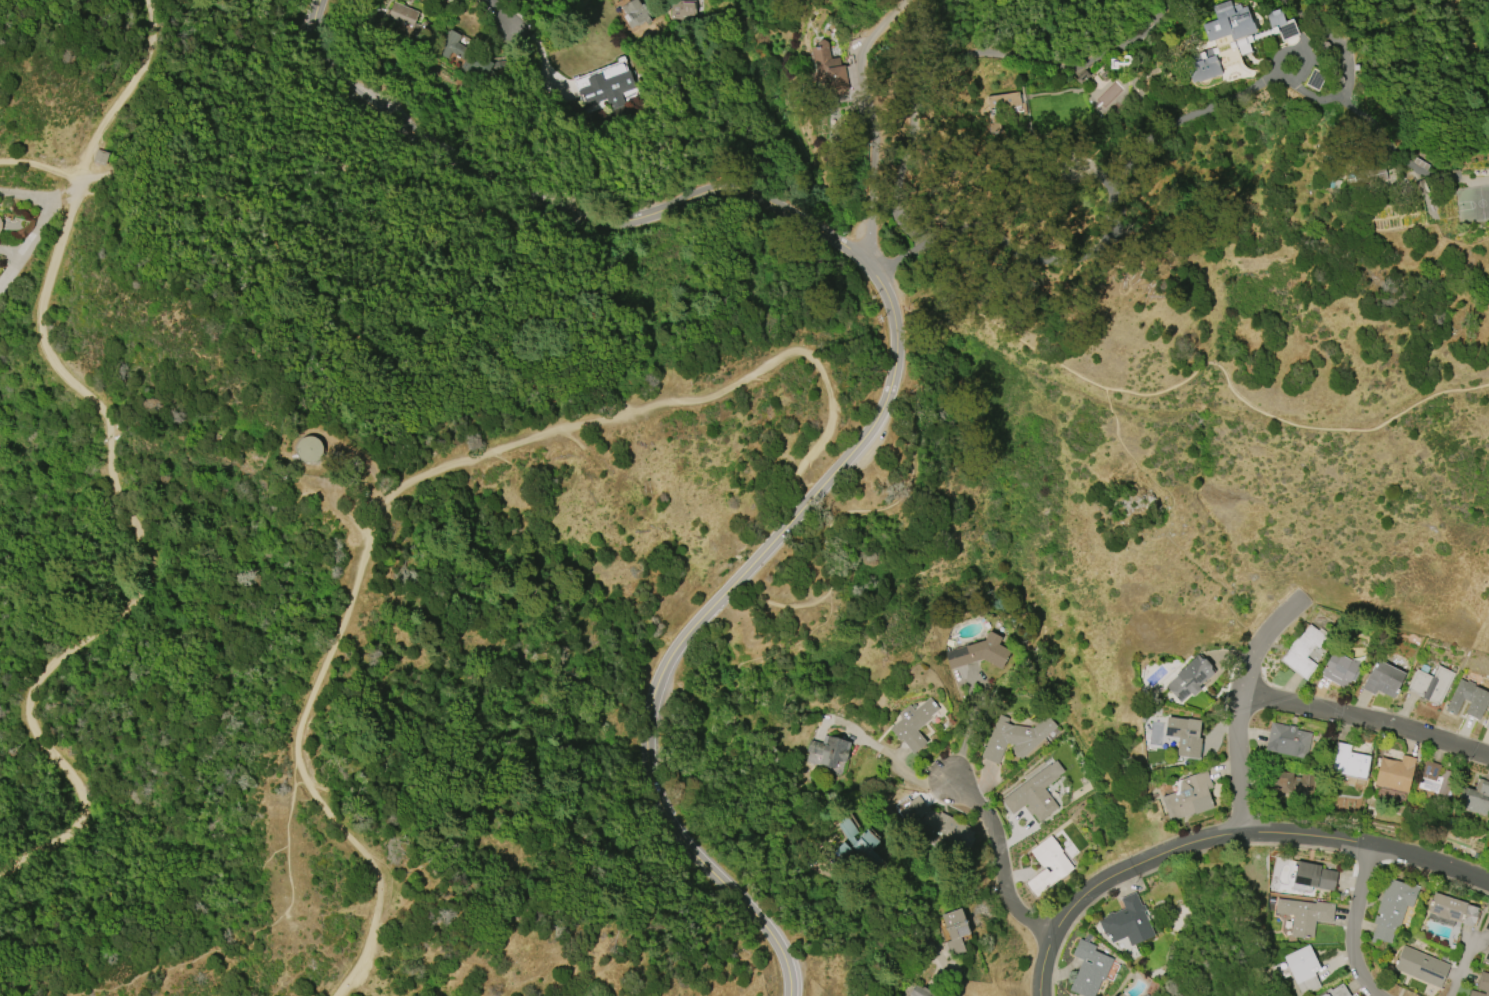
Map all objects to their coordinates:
building: (442, 0)
building: (682, 9)
building: (635, 13)
road: (498, 14)
building: (402, 16)
road: (878, 22)
building: (1281, 24)
building: (1231, 25)
building: (460, 52)
road: (544, 57)
road: (945, 59)
building: (1205, 66)
building: (828, 69)
building: (1104, 74)
building: (1082, 77)
building: (606, 85)
road: (179, 91)
road: (123, 94)
building: (1004, 108)
road: (874, 151)
building: (100, 157)
road: (40, 165)
road: (306, 169)
building: (1363, 176)
road: (63, 191)
road: (543, 204)
road: (1120, 216)
road: (43, 221)
building: (0, 224)
road: (337, 305)
road: (924, 316)
road: (1027, 344)
building: (308, 449)
storage tank: (308, 449)
road: (423, 478)
road: (302, 481)
road: (789, 493)
road: (350, 515)
road: (139, 554)
road: (712, 613)
building: (1302, 651)
building: (980, 652)
building: (1340, 668)
building: (1190, 678)
building: (1383, 679)
building: (1430, 684)
building: (1468, 699)
road: (1237, 706)
road: (1364, 720)
building: (913, 724)
building: (1487, 724)
road: (968, 730)
building: (1184, 735)
building: (1015, 737)
building: (1287, 740)
building: (830, 749)
building: (1350, 763)
road: (905, 769)
building: (1394, 773)
building: (1436, 780)
building: (1293, 784)
building: (1034, 793)
building: (1188, 796)
building: (1475, 797)
building: (848, 828)
building: (946, 830)
road: (1225, 836)
building: (866, 848)
road: (998, 856)
building: (1048, 865)
building: (1312, 877)
building: (1392, 908)
building: (1453, 909)
building: (1304, 915)
building: (1126, 921)
road: (1351, 924)
road: (903, 926)
building: (1486, 926)
building: (955, 930)
building: (1486, 954)
building: (1421, 966)
road: (1461, 966)
building: (1303, 968)
building: (1089, 969)
building: (1481, 985)
road: (105, 990)
building: (920, 991)
building: (1335, 991)

